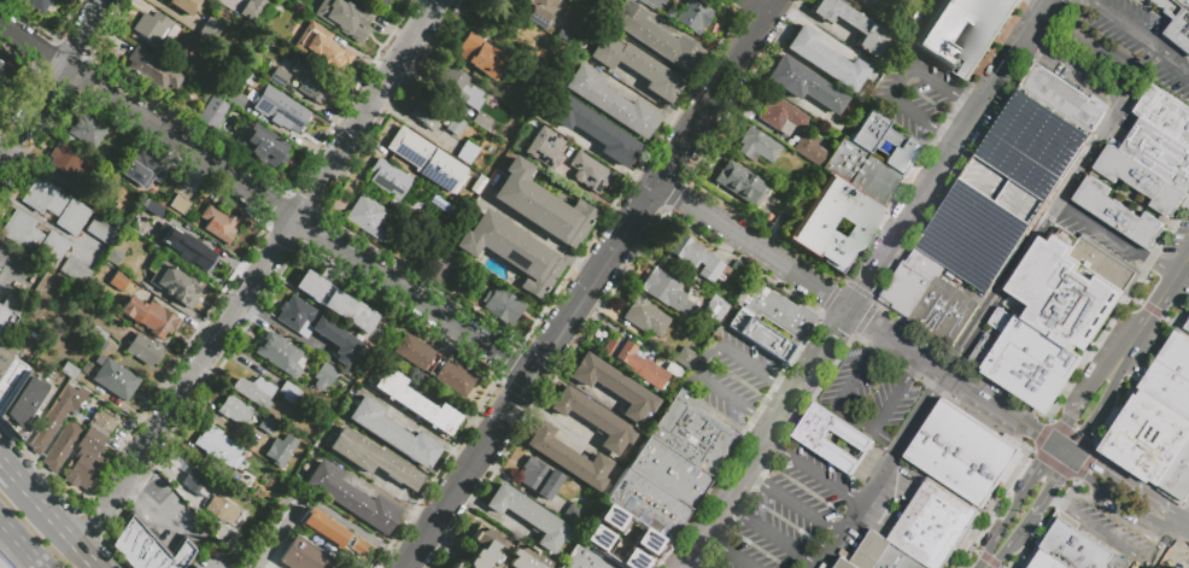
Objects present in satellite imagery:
building: (574, 0)
building: (532, 1)
building: (862, 1)
building: (377, 2)
building: (652, 2)
building: (37, 4)
building: (182, 6)
road: (758, 6)
building: (252, 8)
road: (1079, 14)
building: (877, 16)
building: (341, 17)
building: (538, 17)
building: (693, 17)
building: (1176, 21)
road: (1125, 23)
building: (851, 24)
building: (151, 27)
building: (210, 28)
building: (171, 31)
building: (562, 34)
building: (932, 36)
building: (655, 37)
parking lot: (1124, 45)
road: (29, 46)
building: (316, 46)
road: (1102, 48)
building: (480, 55)
road: (1168, 55)
building: (825, 58)
road: (1147, 58)
building: (637, 66)
road: (1074, 68)
building: (153, 69)
building: (0, 70)
road: (1182, 72)
road: (77, 77)
building: (277, 77)
road: (52, 78)
road: (900, 80)
building: (312, 82)
building: (804, 83)
road: (1138, 83)
building: (457, 87)
road: (717, 90)
road: (1166, 93)
parking lot: (918, 95)
building: (235, 98)
building: (1066, 98)
building: (610, 101)
road: (1011, 103)
road: (971, 104)
building: (279, 109)
building: (211, 113)
building: (780, 113)
building: (1165, 113)
building: (433, 116)
road: (1031, 117)
building: (482, 122)
building: (84, 129)
building: (594, 130)
road: (949, 136)
road: (1080, 137)
building: (886, 144)
building: (756, 145)
building: (265, 146)
building: (409, 147)
building: (544, 147)
building: (808, 148)
building: (465, 151)
building: (1159, 152)
building: (72, 163)
building: (140, 169)
building: (441, 171)
building: (588, 172)
building: (863, 174)
building: (1140, 178)
building: (739, 182)
building: (476, 185)
building: (392, 187)
building: (1003, 189)
parking lot: (1003, 189)
building: (178, 204)
building: (439, 204)
building: (54, 205)
building: (540, 206)
building: (1118, 213)
building: (367, 216)
road: (42, 219)
building: (813, 221)
building: (218, 224)
road: (289, 227)
road: (929, 227)
building: (142, 228)
building: (100, 230)
road: (1168, 230)
road: (311, 232)
road: (1103, 232)
road: (1036, 235)
building: (33, 238)
road: (538, 238)
road: (754, 245)
building: (197, 252)
building: (510, 252)
building: (113, 256)
building: (697, 257)
building: (1105, 263)
road: (1182, 265)
road: (16, 269)
road: (1161, 269)
building: (435, 270)
building: (75, 273)
road: (989, 277)
building: (118, 280)
building: (175, 283)
road: (865, 283)
building: (1065, 288)
building: (668, 293)
road: (1164, 294)
building: (929, 298)
road: (1134, 299)
building: (334, 301)
building: (502, 306)
building: (720, 308)
building: (774, 309)
road: (1150, 310)
building: (150, 317)
building: (648, 318)
building: (5, 321)
building: (701, 323)
road: (1176, 324)
building: (316, 328)
building: (1187, 328)
building: (761, 336)
building: (96, 338)
road: (1096, 340)
road: (1134, 340)
road: (878, 341)
building: (143, 350)
building: (107, 351)
building: (117, 351)
building: (6, 353)
building: (279, 353)
building: (1177, 356)
building: (684, 357)
road: (704, 357)
building: (1025, 361)
building: (633, 362)
building: (432, 365)
road: (915, 367)
building: (84, 368)
building: (69, 370)
building: (320, 373)
road: (531, 373)
parking lot: (732, 375)
road: (950, 375)
building: (113, 377)
road: (1142, 377)
road: (1100, 379)
building: (11, 380)
road: (784, 383)
road: (1111, 385)
road: (574, 386)
building: (613, 386)
building: (254, 390)
building: (1168, 390)
building: (288, 393)
parking lot: (872, 394)
building: (415, 403)
building: (23, 405)
building: (234, 409)
building: (57, 415)
road: (1068, 415)
road: (855, 416)
road: (763, 417)
building: (593, 418)
building: (266, 424)
road: (2, 428)
road: (1089, 428)
building: (691, 432)
building: (393, 433)
road: (1041, 435)
road: (1072, 435)
building: (831, 438)
building: (1148, 439)
building: (61, 444)
building: (217, 445)
road: (1050, 446)
road: (1062, 449)
building: (280, 450)
building: (88, 452)
building: (962, 453)
building: (567, 457)
building: (374, 458)
road: (136, 461)
road: (1054, 464)
road: (1085, 464)
road: (8, 469)
building: (669, 469)
road: (812, 469)
road: (880, 469)
road: (1033, 469)
road: (130, 472)
road: (1083, 473)
building: (539, 478)
building: (1178, 478)
building: (195, 482)
road: (1129, 482)
road: (135, 484)
road: (939, 484)
road: (1053, 485)
building: (351, 497)
road: (790, 503)
building: (648, 504)
road: (991, 506)
road: (1129, 506)
road: (1012, 508)
building: (221, 509)
road: (322, 509)
road: (104, 511)
road: (162, 513)
parking lot: (791, 513)
building: (529, 515)
building: (572, 515)
building: (609, 516)
road: (1185, 519)
road: (58, 523)
road: (1048, 523)
building: (935, 525)
building: (322, 527)
road: (1100, 532)
road: (769, 533)
road: (1173, 534)
building: (596, 537)
road: (1171, 538)
road: (1012, 539)
building: (645, 540)
road: (992, 541)
road: (20, 543)
building: (235, 543)
building: (357, 545)
building: (148, 546)
road: (972, 549)
building: (1078, 549)
road: (726, 551)
building: (498, 552)
building: (883, 555)
building: (305, 556)
building: (585, 558)
building: (631, 560)
road: (988, 560)
building: (1047, 561)
building: (2, 564)
road: (252, 564)
building: (845, 564)
road: (986, 564)
building: (708, 566)
road: (998, 567)

